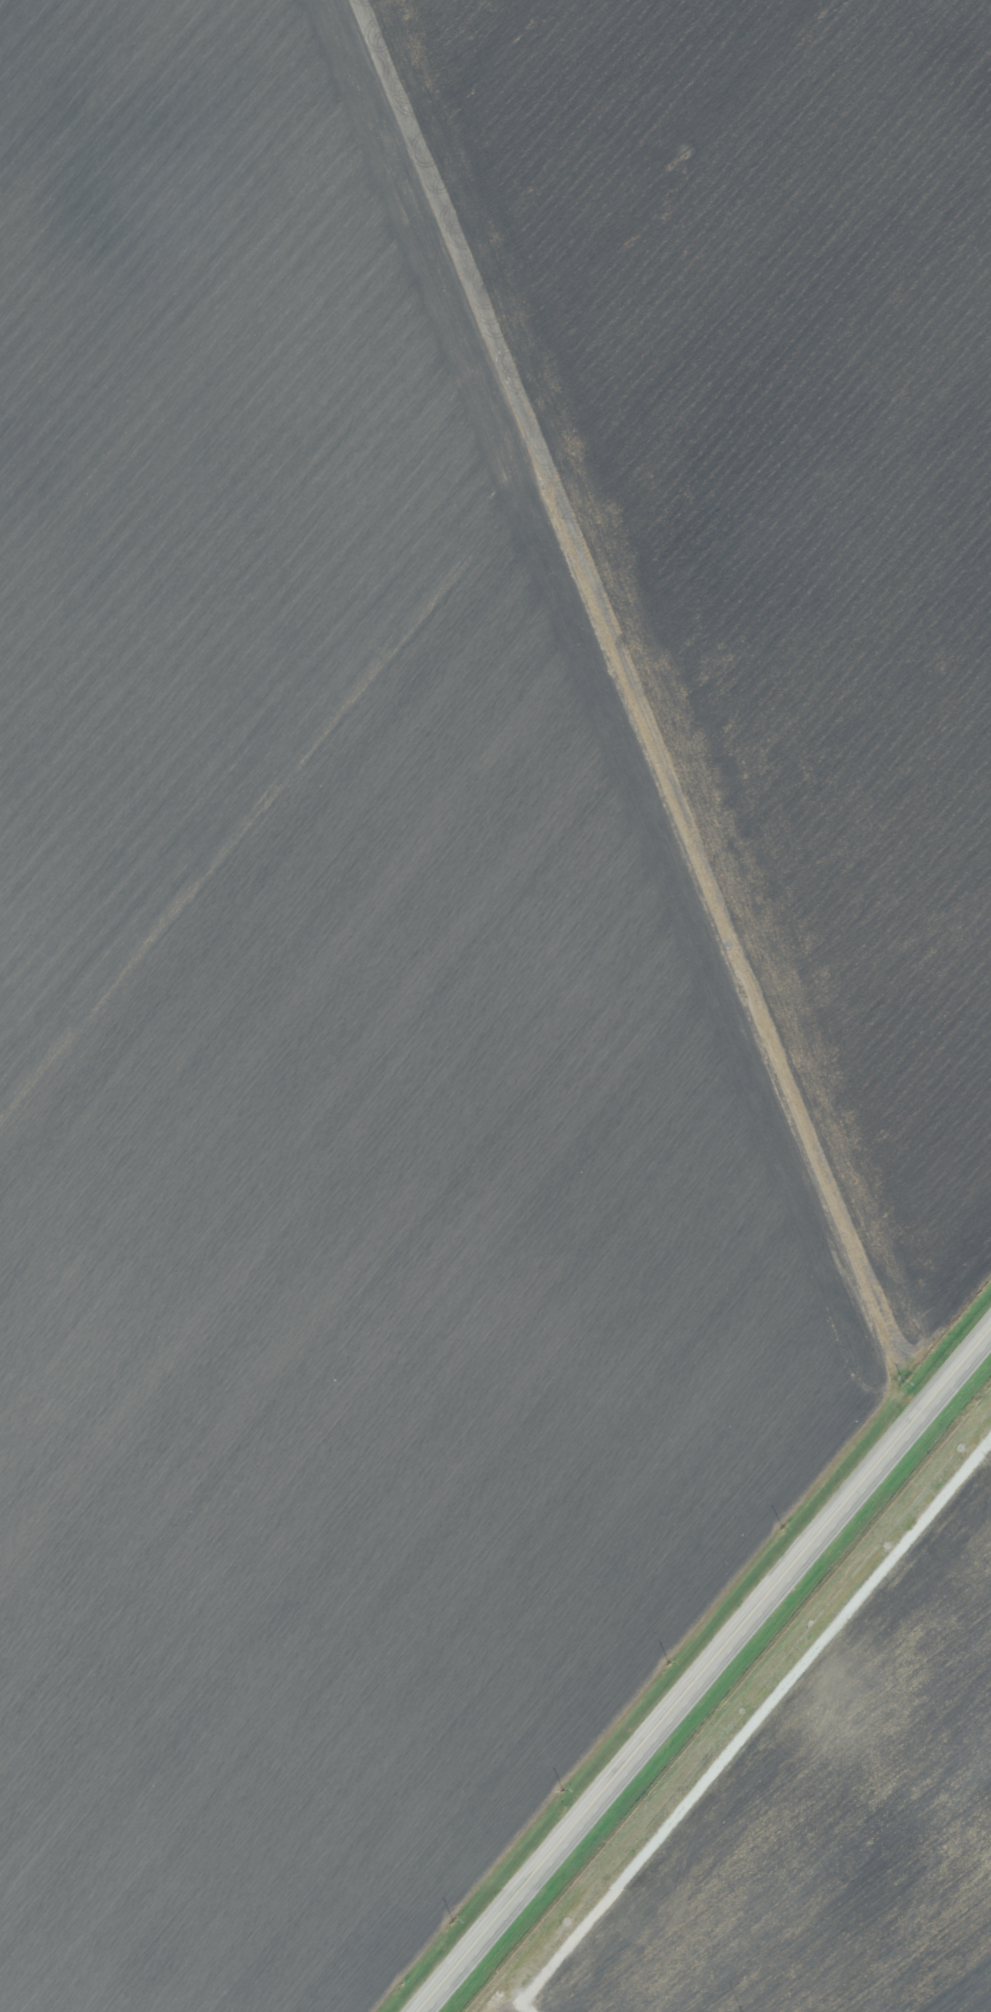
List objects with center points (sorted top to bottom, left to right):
road: (710, 1678)
railway: (742, 1714)

